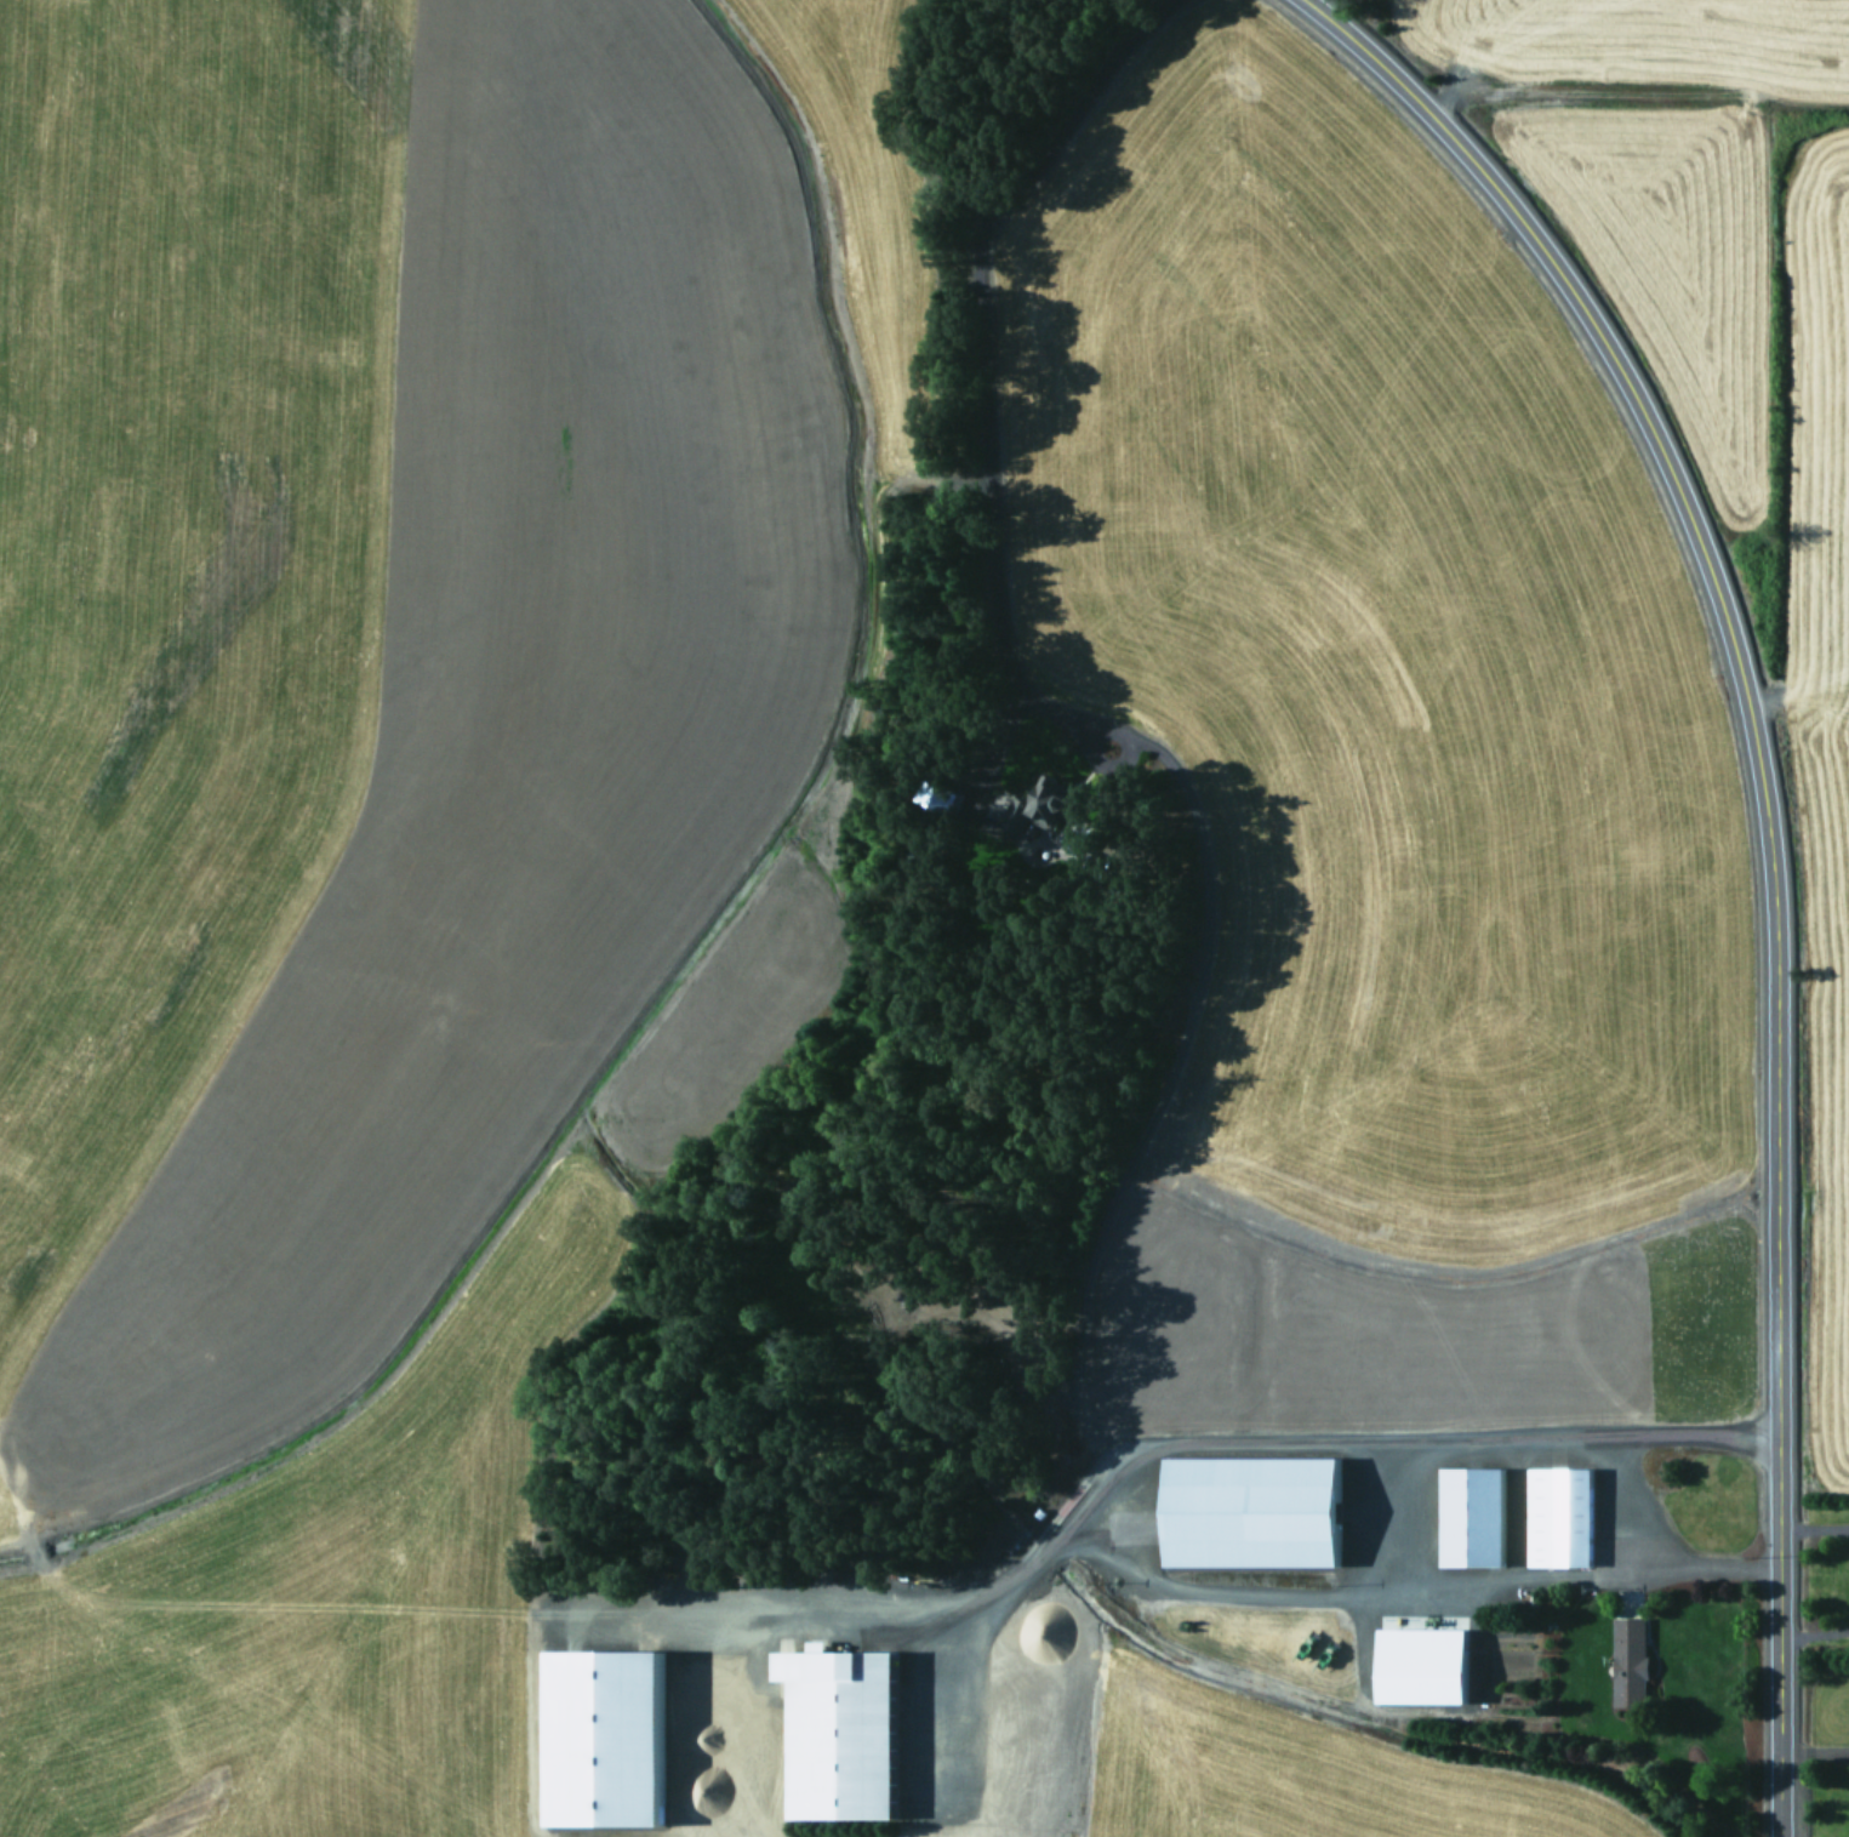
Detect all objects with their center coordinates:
crop: (1735, 440)
road: (1760, 845)
crop: (403, 936)
building: (1251, 1512)
building: (1472, 1517)
building: (1559, 1517)
building: (1630, 1662)
building: (1422, 1666)
building: (839, 1734)
building: (603, 1740)

